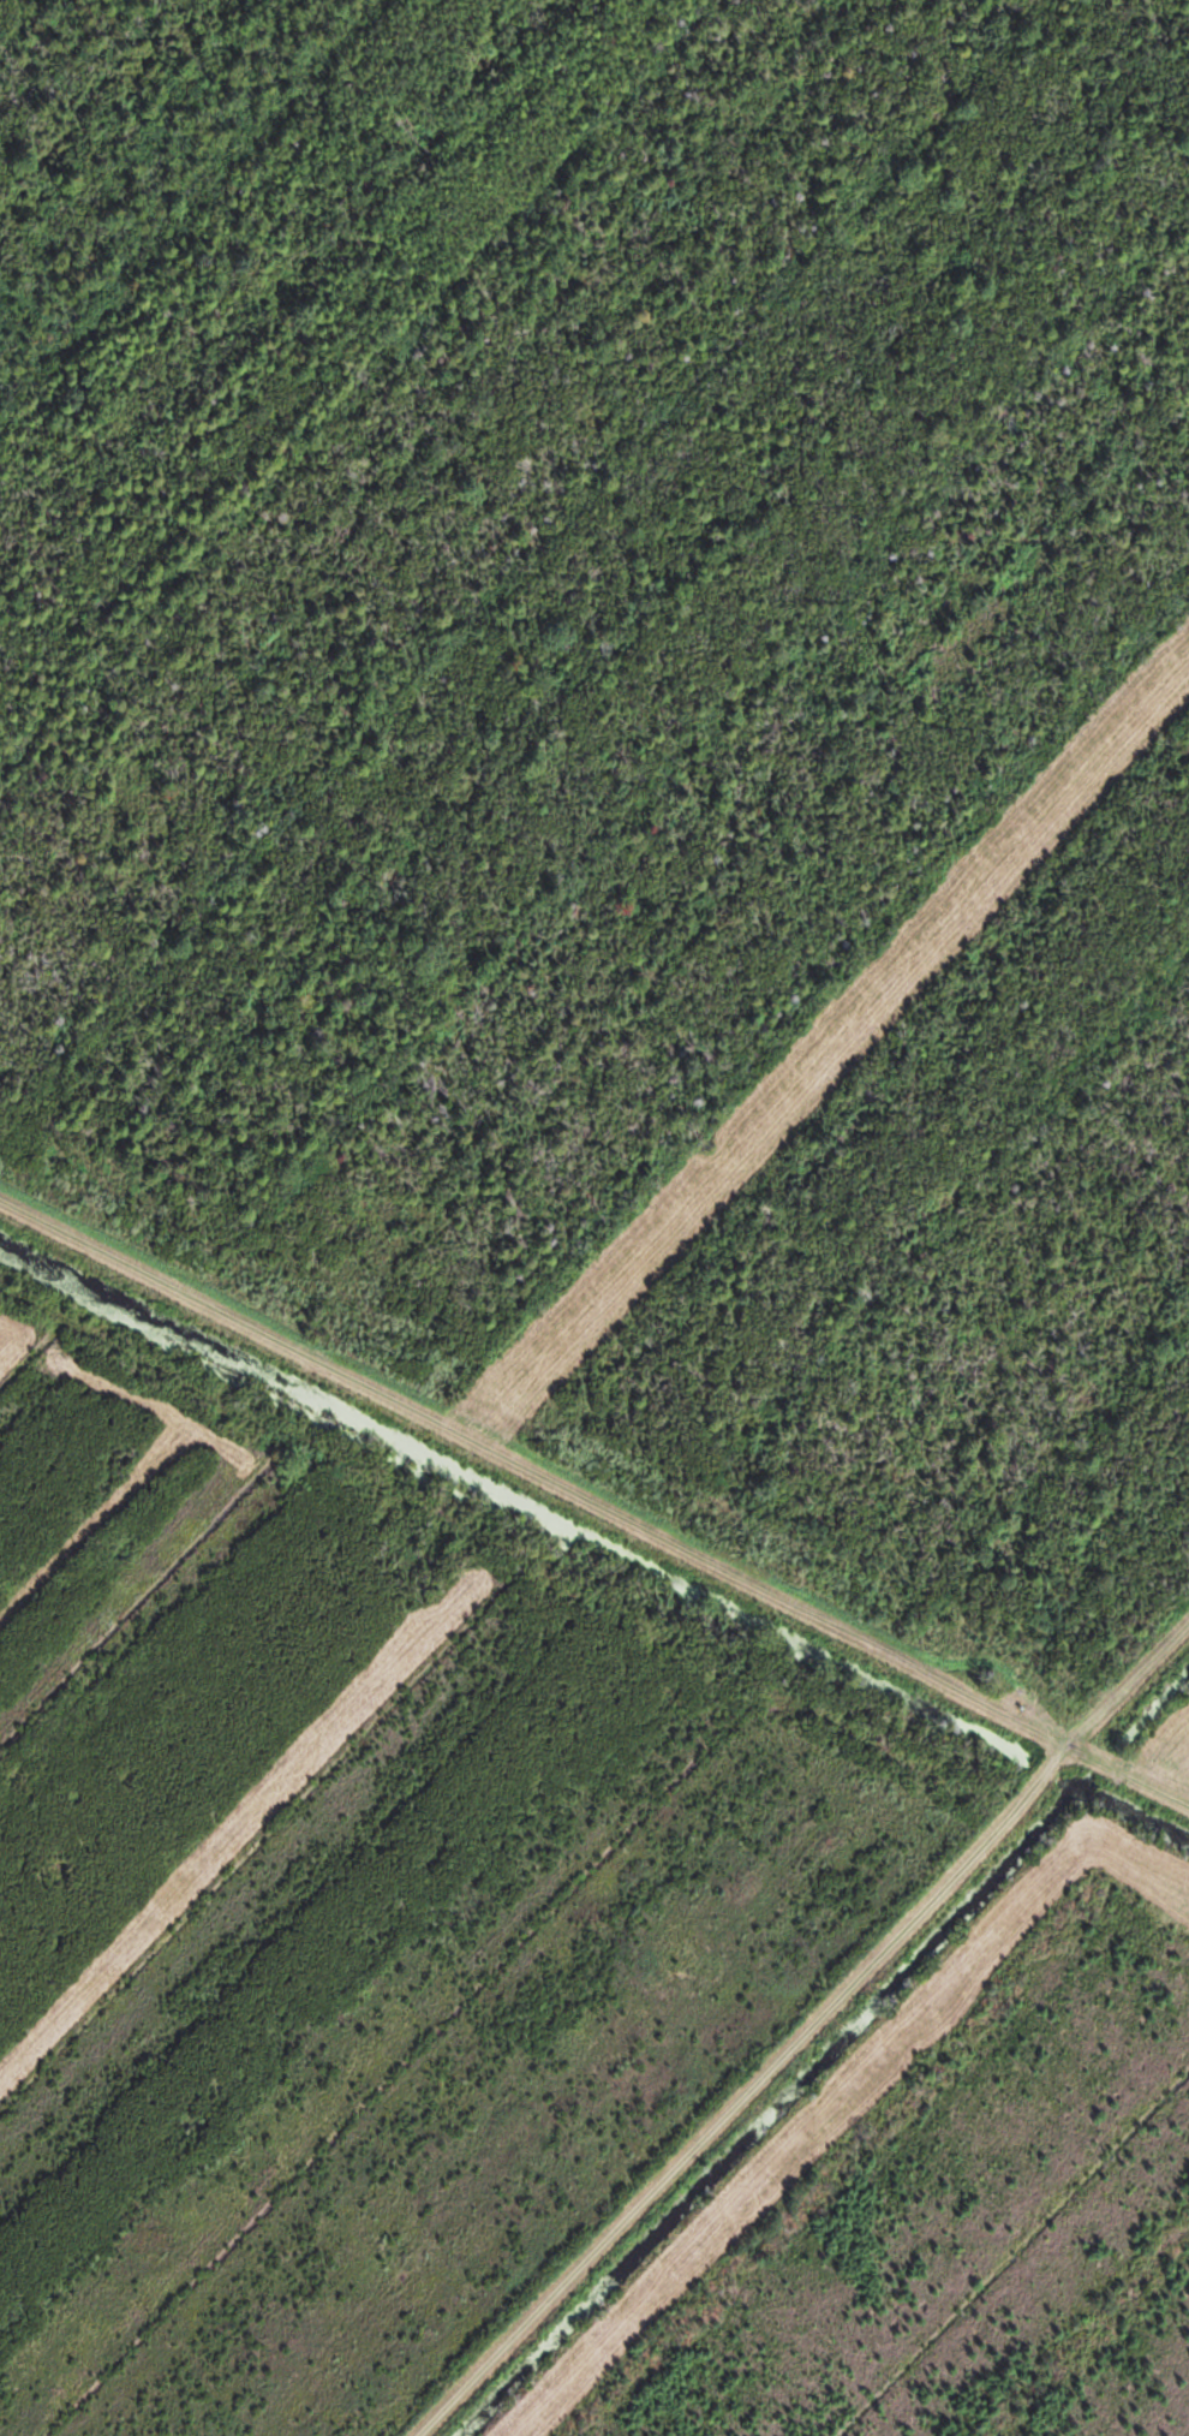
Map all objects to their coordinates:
road: (596, 1505)
road: (801, 2027)

